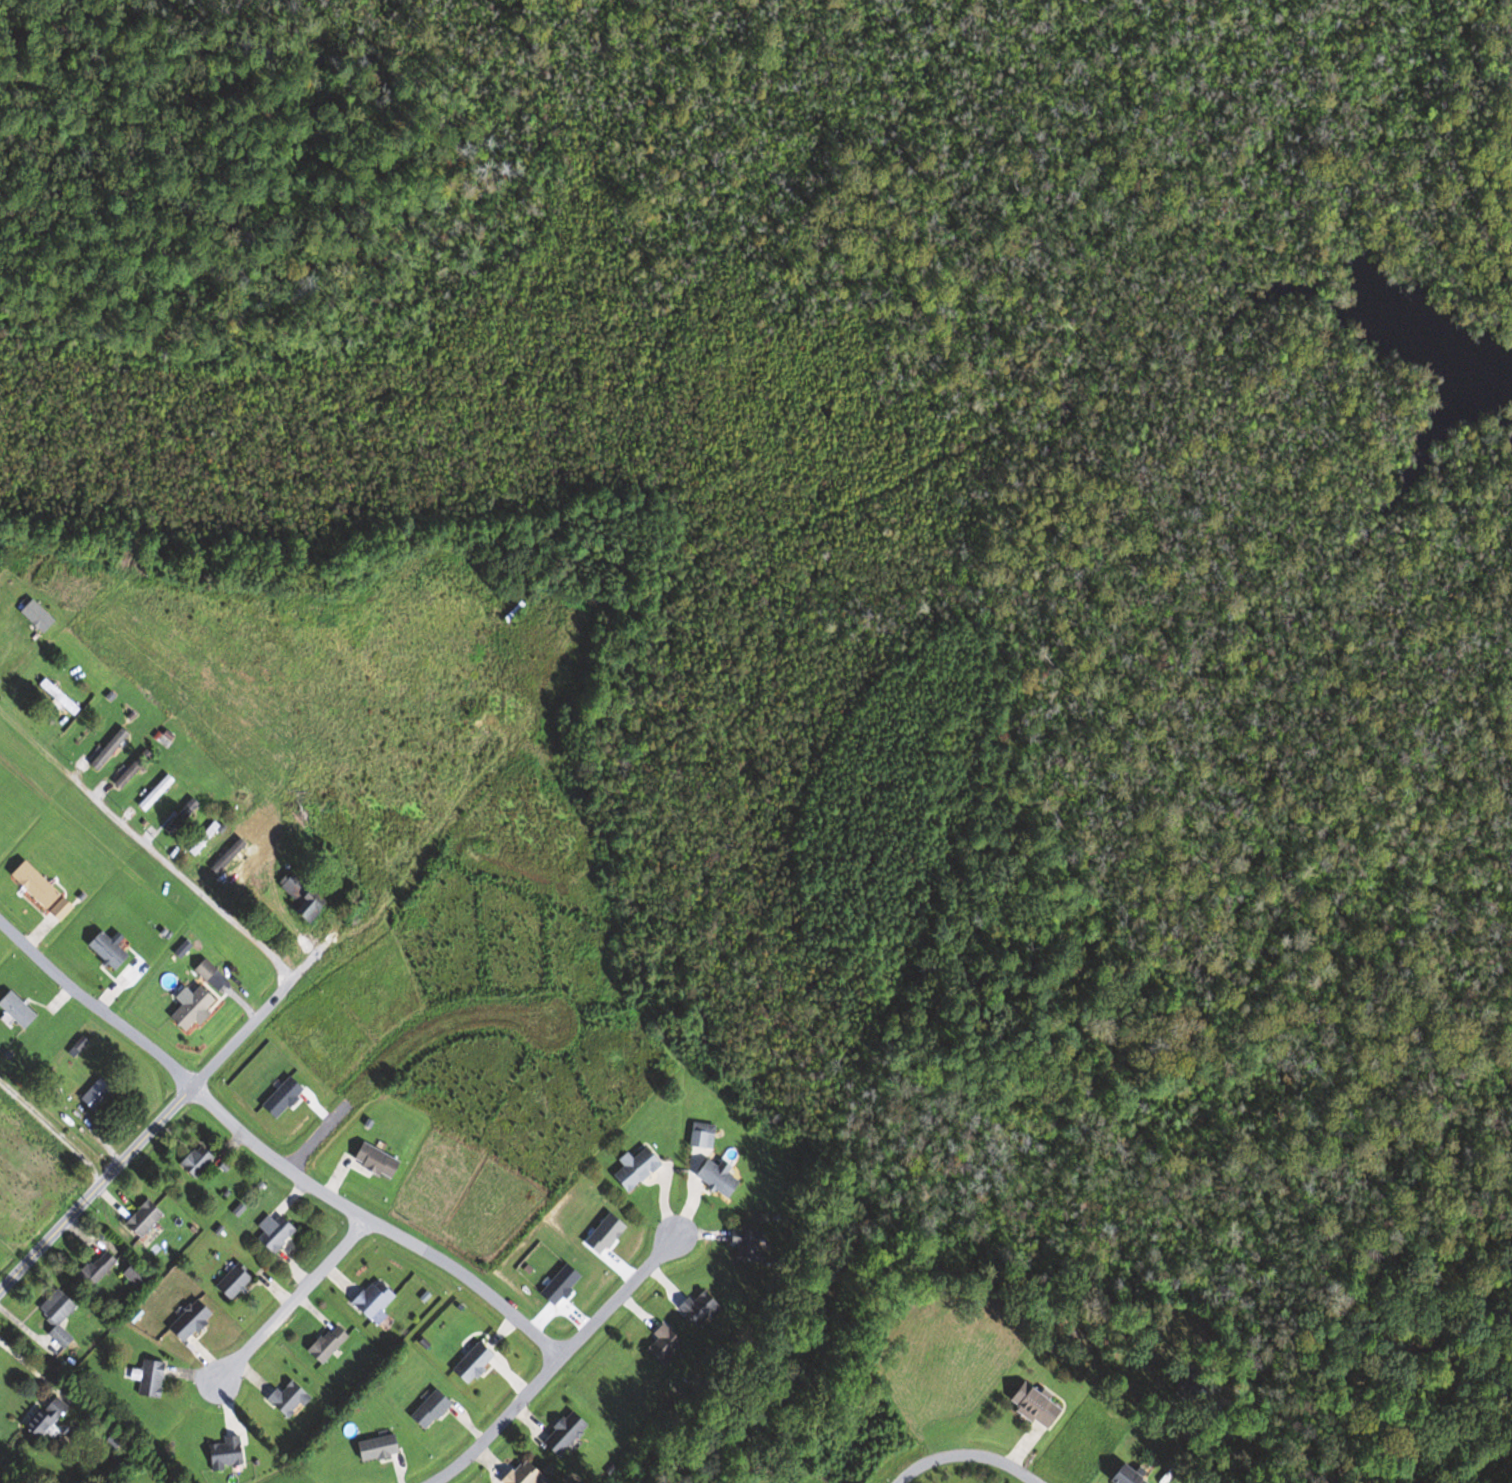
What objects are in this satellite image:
building: (39, 616)
building: (60, 697)
building: (111, 749)
building: (135, 768)
building: (157, 792)
building: (183, 816)
building: (205, 838)
road: (146, 845)
building: (238, 847)
building: (305, 897)
building: (111, 951)
building: (208, 970)
building: (195, 1008)
building: (19, 1009)
building: (79, 1046)
road: (400, 1052)
building: (99, 1094)
road: (160, 1121)
road: (54, 1129)
building: (698, 1136)
road: (268, 1154)
building: (198, 1160)
building: (380, 1160)
building: (630, 1169)
building: (712, 1179)
building: (146, 1218)
building: (277, 1231)
building: (742, 1247)
building: (99, 1268)
building: (137, 1274)
building: (236, 1281)
building: (376, 1298)
road: (290, 1301)
building: (703, 1308)
building: (60, 1315)
building: (194, 1319)
building: (330, 1344)
building: (666, 1345)
road: (552, 1361)
building: (475, 1363)
building: (290, 1398)
building: (1028, 1406)
building: (433, 1409)
building: (50, 1416)
building: (568, 1432)
building: (380, 1447)
building: (227, 1453)
road: (969, 1456)
building: (528, 1473)
building: (1118, 1475)

